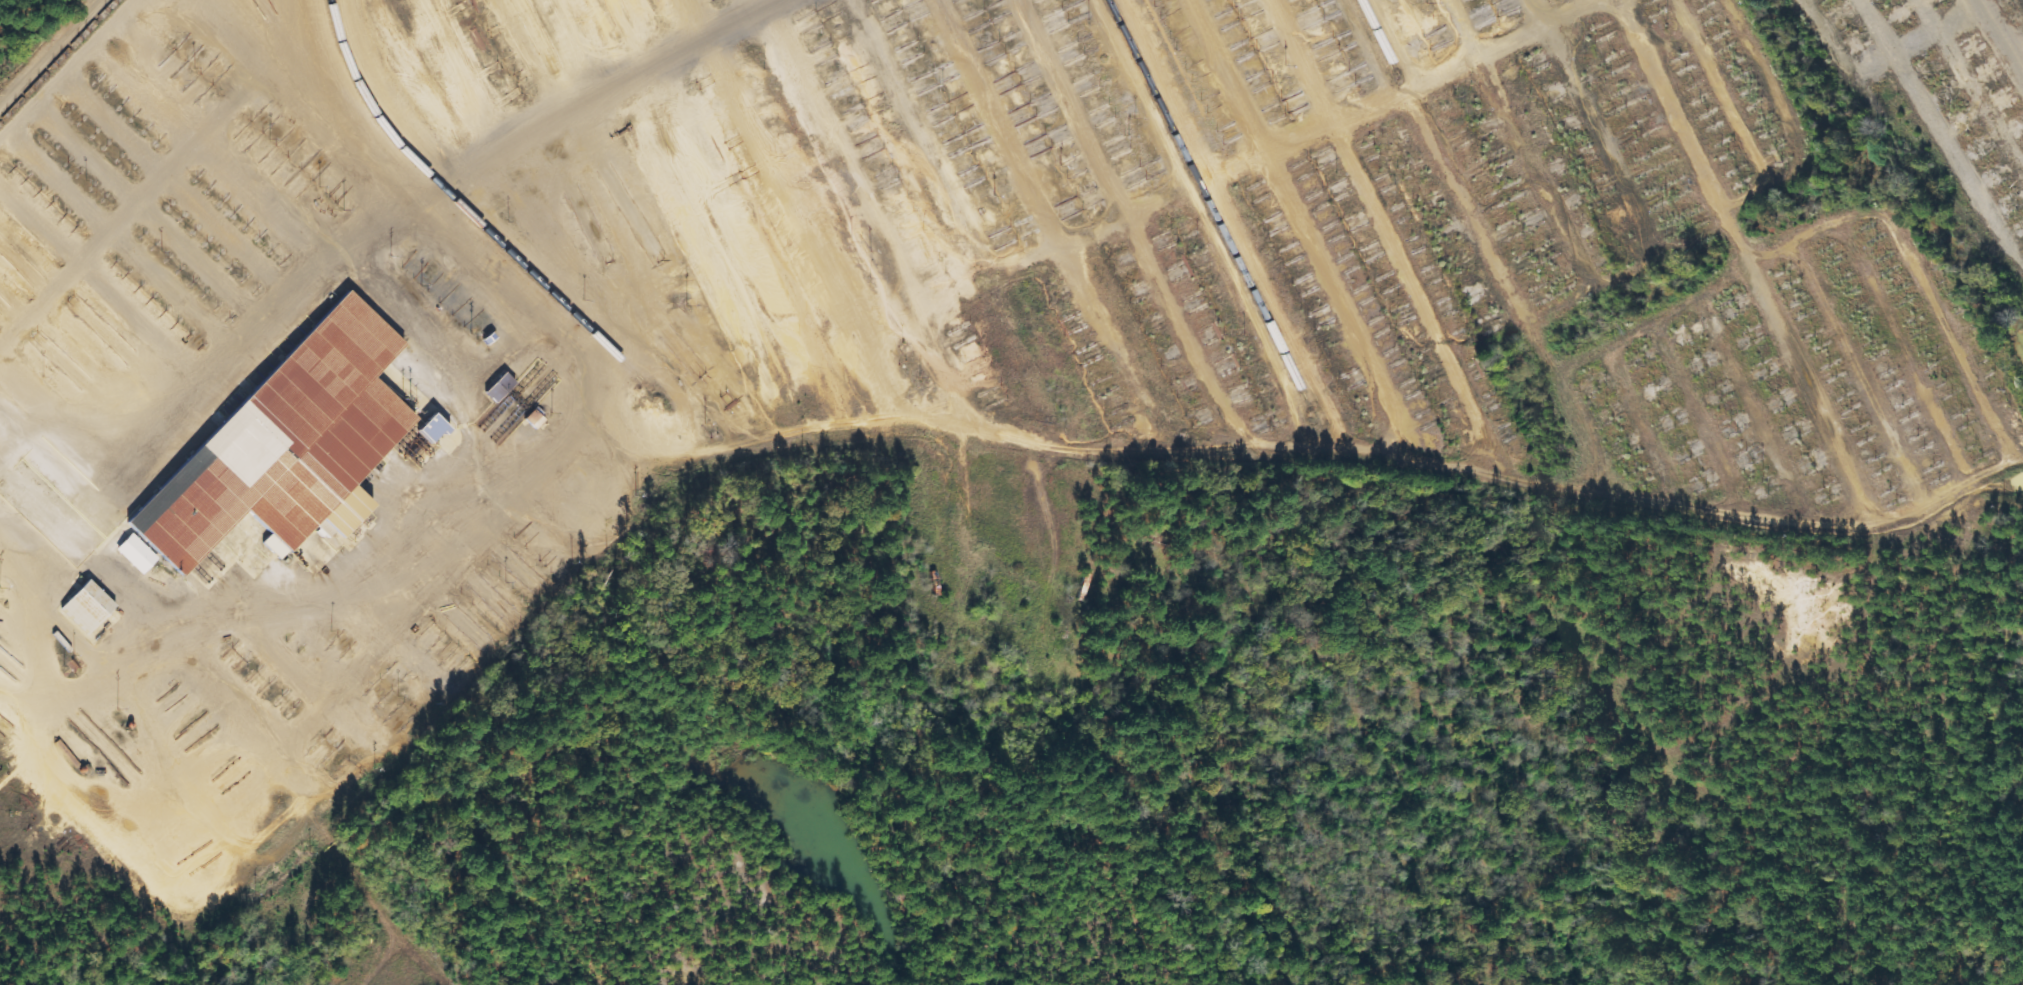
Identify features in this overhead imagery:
railway: (1378, 37)
railway: (57, 60)
building: (215, 72)
building: (258, 126)
building: (290, 145)
building: (308, 175)
railway: (1207, 204)
railway: (467, 212)
building: (534, 419)
building: (431, 428)
building: (287, 445)
building: (136, 553)
building: (87, 606)
building: (406, 715)

